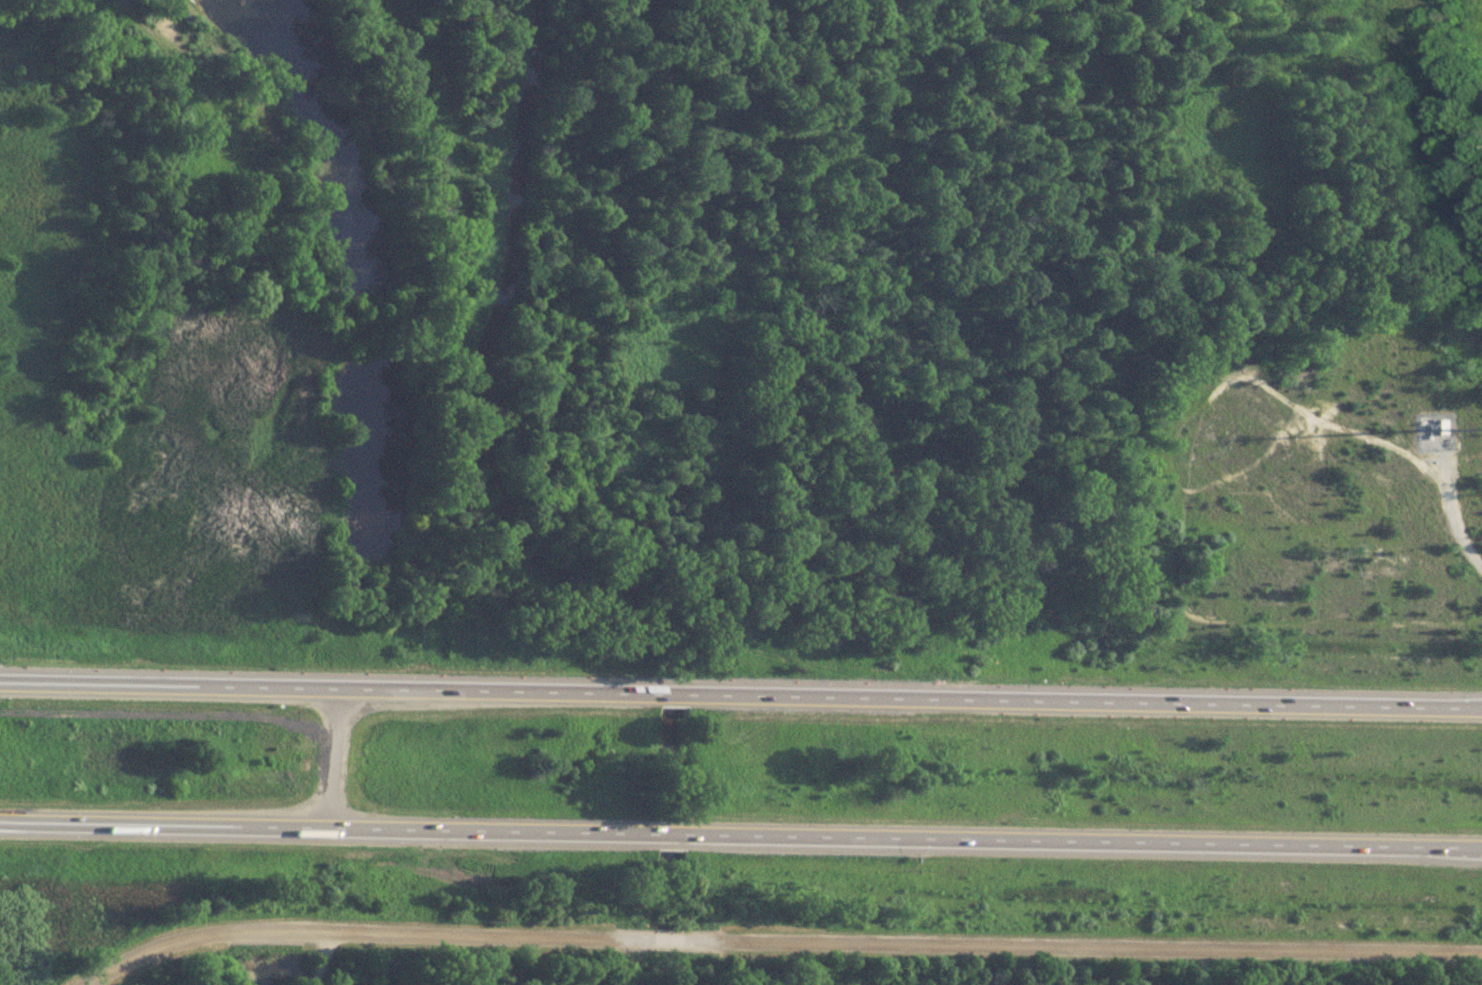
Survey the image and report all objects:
road: (140, 21)
road: (1449, 489)
road: (327, 685)
road: (669, 692)
road: (1082, 696)
road: (331, 756)
road: (326, 827)
road: (667, 833)
road: (1081, 841)
road: (358, 931)
road: (664, 938)
road: (1079, 945)
road: (323, 959)

